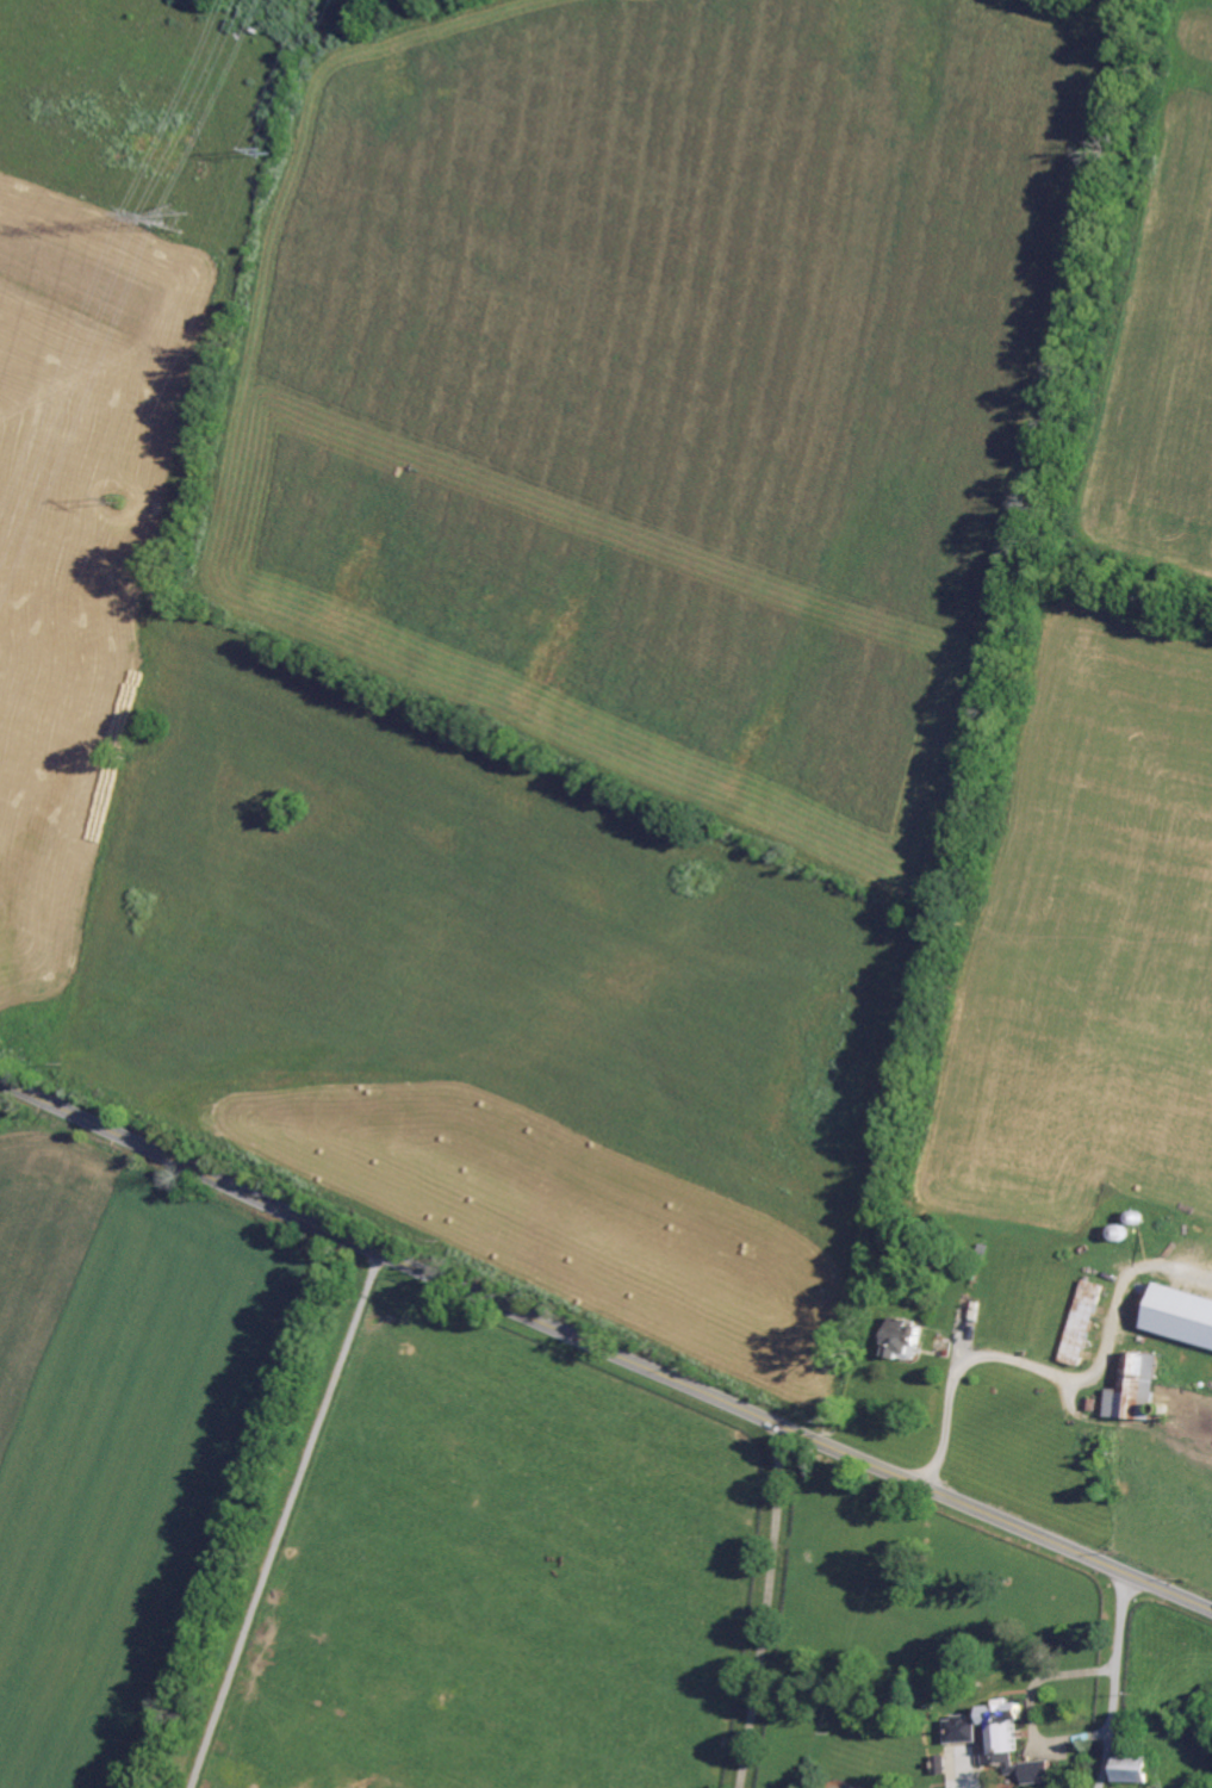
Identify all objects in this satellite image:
power tower: (176, 217)
building: (1181, 1315)
building: (1080, 1323)
building: (903, 1339)
road: (604, 1349)
road: (1027, 1362)
building: (1133, 1389)
road: (282, 1520)
road: (766, 1608)
road: (1113, 1681)
building: (997, 1737)
building: (1133, 1771)

